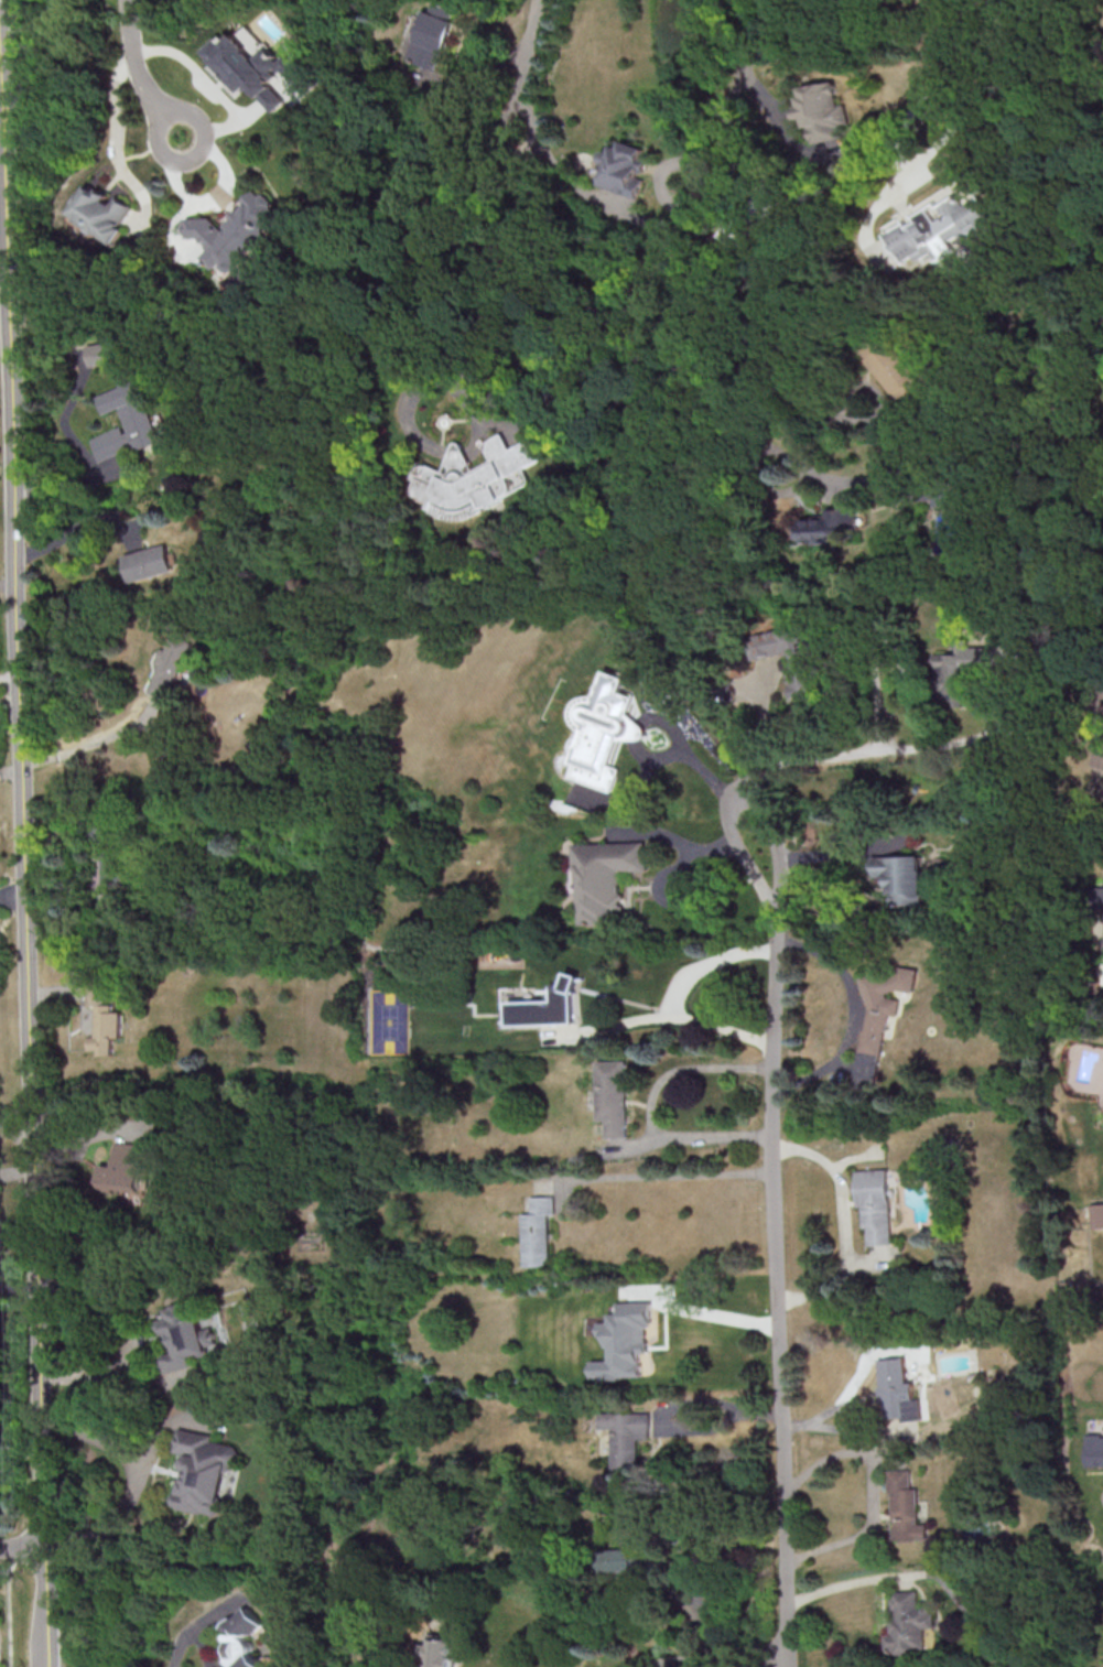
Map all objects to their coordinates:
road: (750, 21)
building: (434, 35)
road: (987, 42)
road: (523, 59)
building: (259, 66)
road: (137, 72)
road: (216, 88)
building: (820, 110)
road: (774, 115)
road: (717, 136)
road: (907, 155)
building: (625, 169)
road: (210, 199)
building: (99, 212)
building: (941, 228)
building: (238, 230)
building: (107, 353)
road: (551, 355)
road: (706, 357)
building: (895, 370)
road: (796, 409)
building: (127, 421)
building: (476, 478)
road: (68, 483)
building: (934, 496)
building: (828, 523)
road: (71, 532)
building: (149, 562)
building: (789, 660)
building: (169, 668)
building: (958, 671)
road: (8, 675)
road: (9, 692)
building: (1095, 692)
building: (604, 730)
road: (20, 735)
road: (749, 738)
road: (86, 743)
road: (910, 749)
building: (1097, 756)
road: (663, 758)
road: (10, 769)
building: (1102, 795)
road: (744, 798)
road: (678, 841)
road: (683, 867)
building: (901, 877)
building: (605, 878)
road: (12, 896)
building: (1097, 897)
road: (706, 962)
building: (547, 1007)
road: (660, 1017)
building: (878, 1017)
building: (104, 1019)
road: (684, 1070)
building: (612, 1096)
road: (694, 1138)
building: (125, 1169)
road: (15, 1170)
road: (659, 1177)
building: (874, 1203)
building: (1097, 1215)
road: (844, 1223)
building: (538, 1232)
road: (776, 1291)
road: (718, 1313)
building: (186, 1335)
road: (130, 1336)
building: (624, 1341)
building: (898, 1390)
road: (717, 1425)
road: (847, 1430)
road: (91, 1433)
building: (625, 1436)
building: (1093, 1450)
road: (42, 1451)
building: (206, 1472)
road: (870, 1491)
road: (122, 1497)
building: (907, 1508)
road: (22, 1546)
building: (615, 1559)
road: (844, 1587)
road: (9, 1605)
road: (45, 1605)
building: (908, 1623)
road: (195, 1630)
building: (248, 1642)
building: (436, 1654)
road: (728, 1659)

